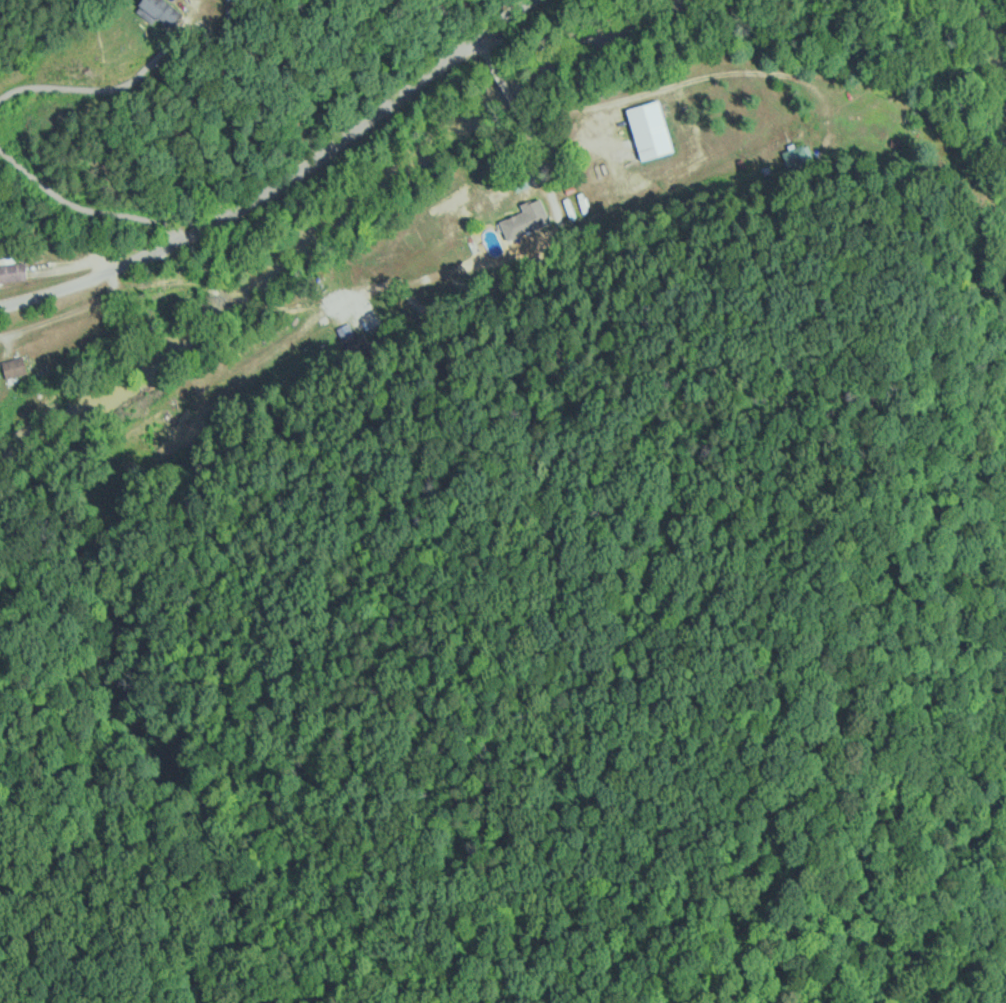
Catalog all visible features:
building: (162, 11)
road: (96, 87)
road: (280, 179)
road: (83, 207)
building: (459, 236)
building: (14, 272)
building: (16, 367)
building: (1, 387)

